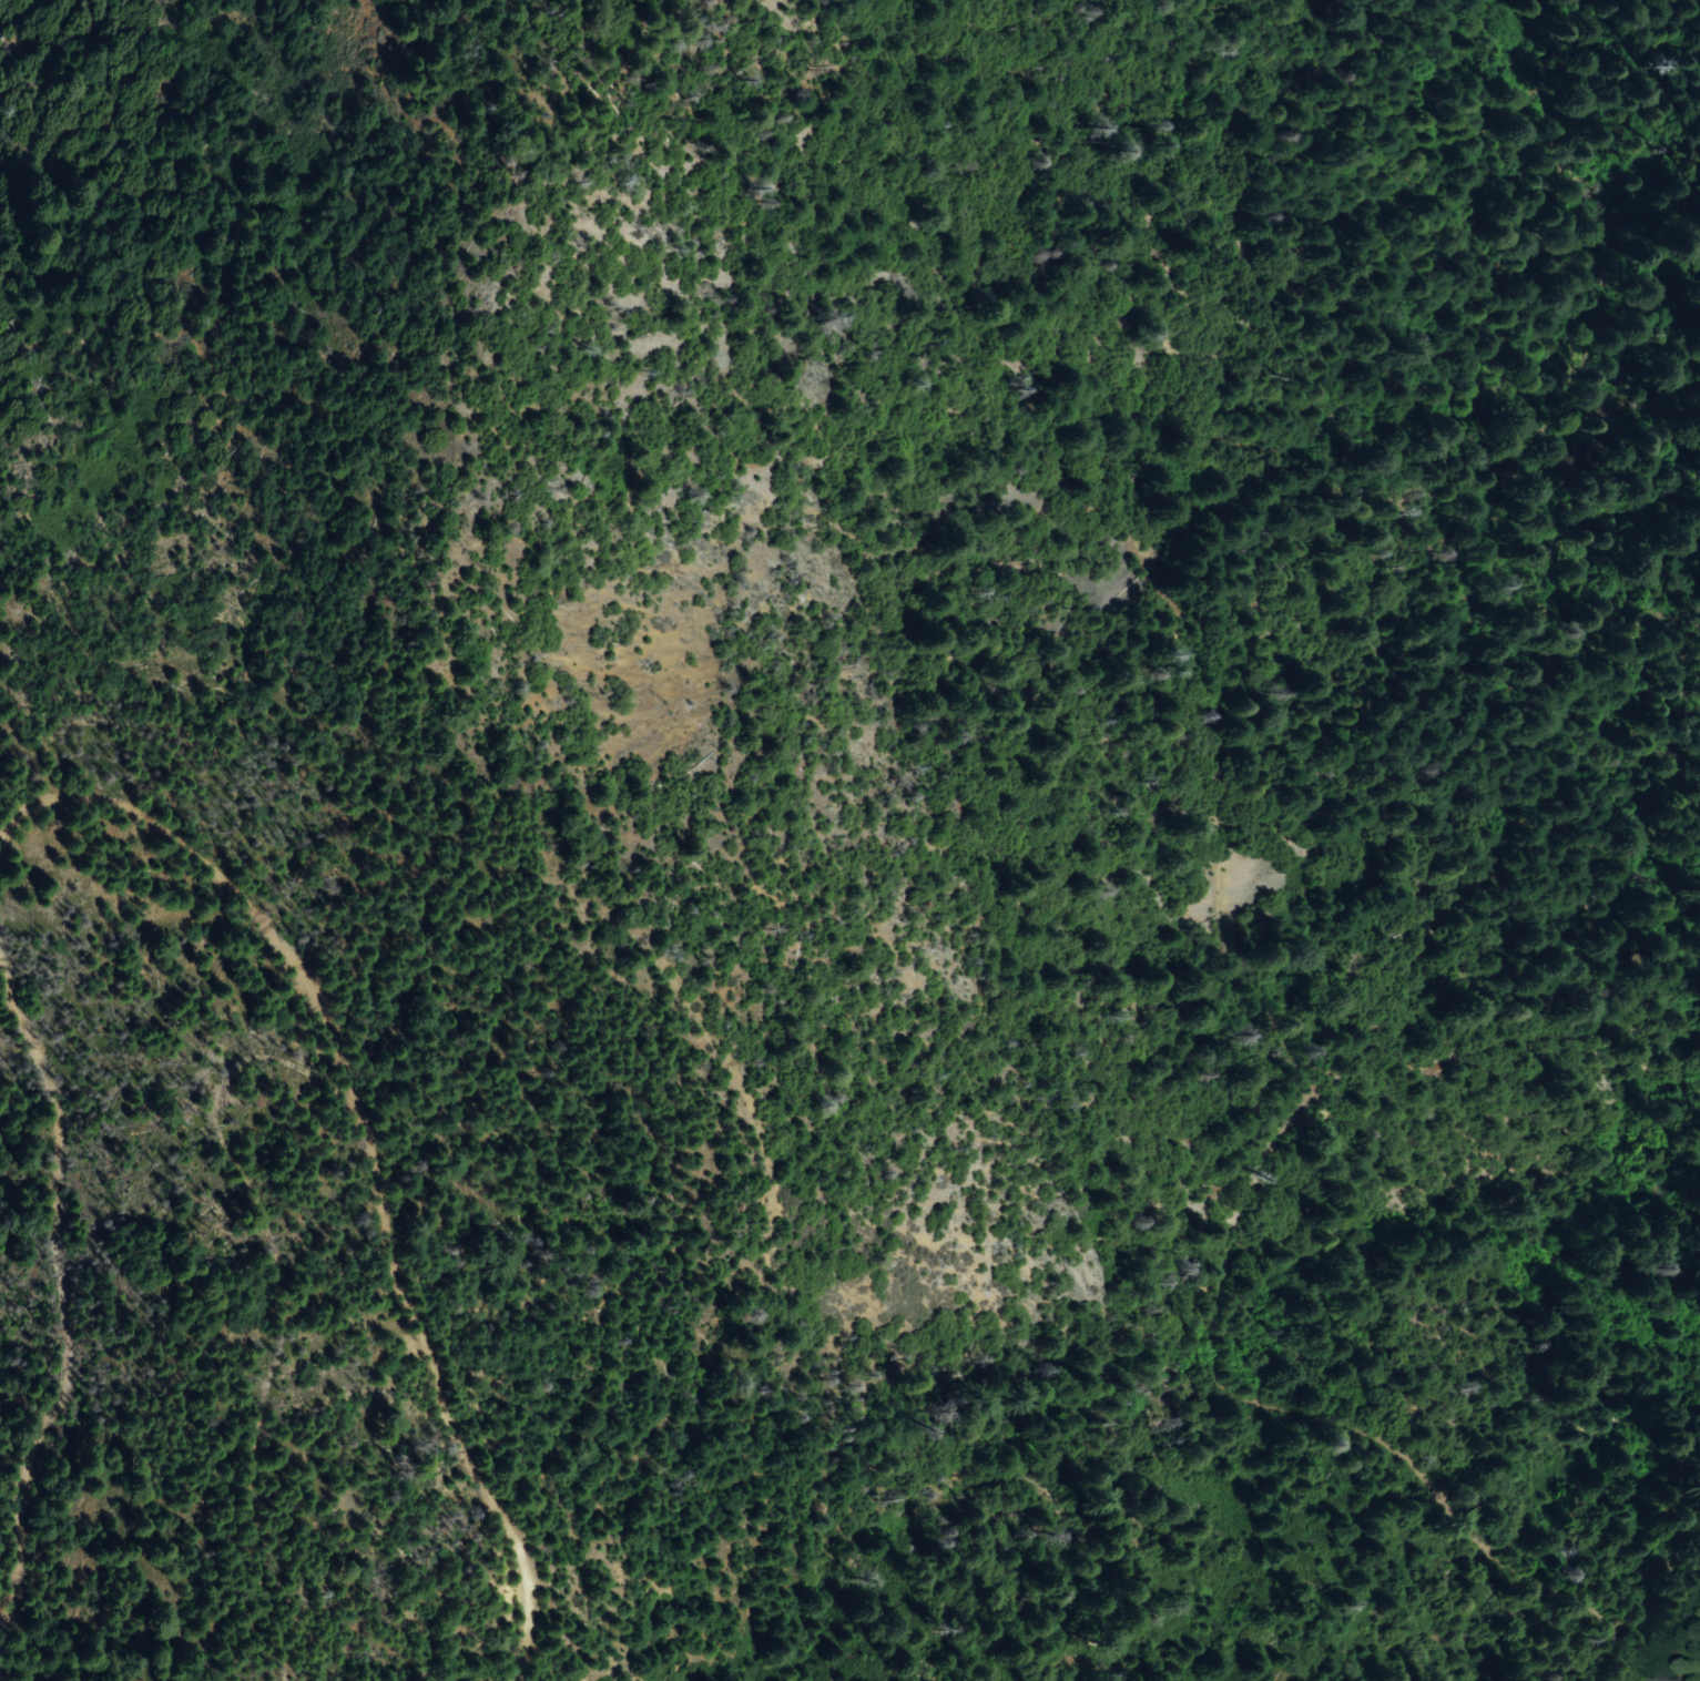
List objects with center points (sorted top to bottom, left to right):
road: (369, 1141)
road: (64, 1294)

